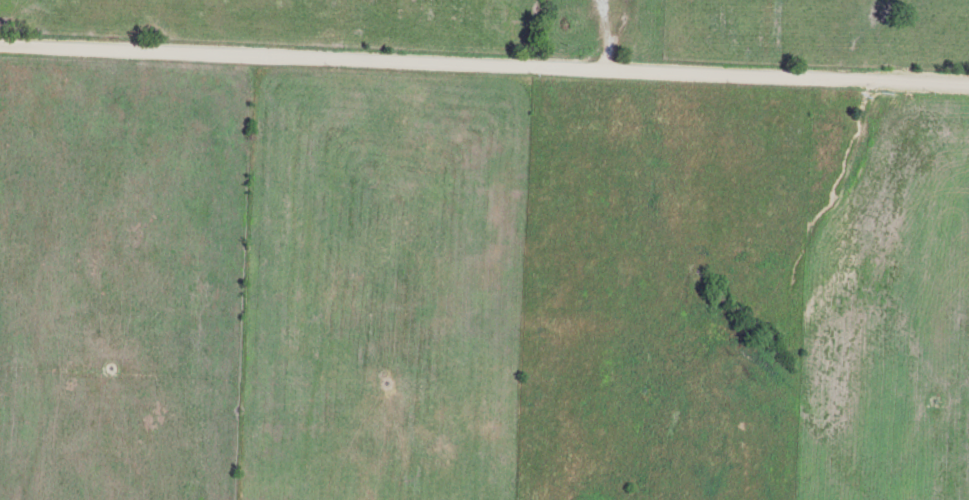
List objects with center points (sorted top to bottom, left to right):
road: (484, 72)

